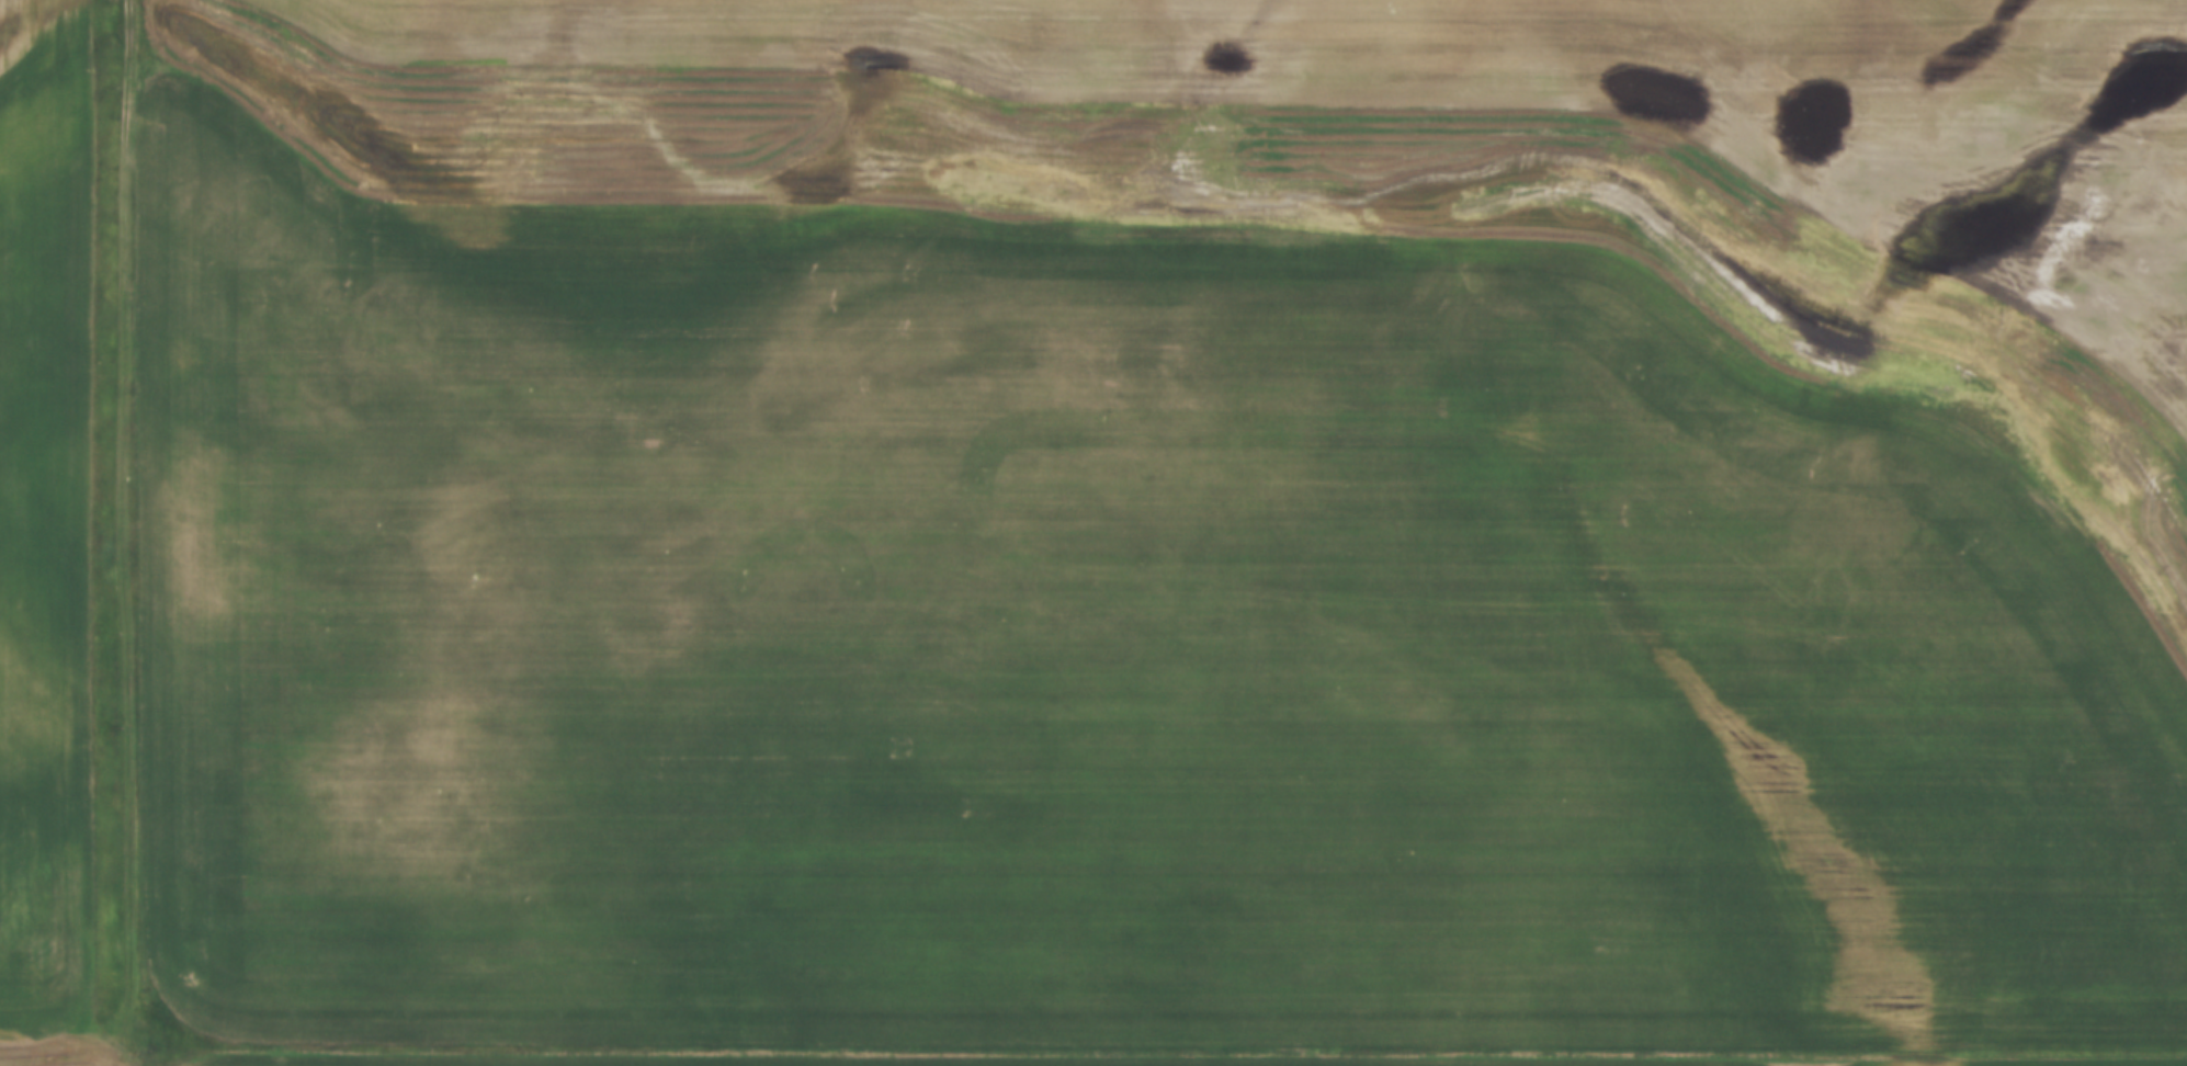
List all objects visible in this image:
road: (117, 533)
road: (675, 1059)

